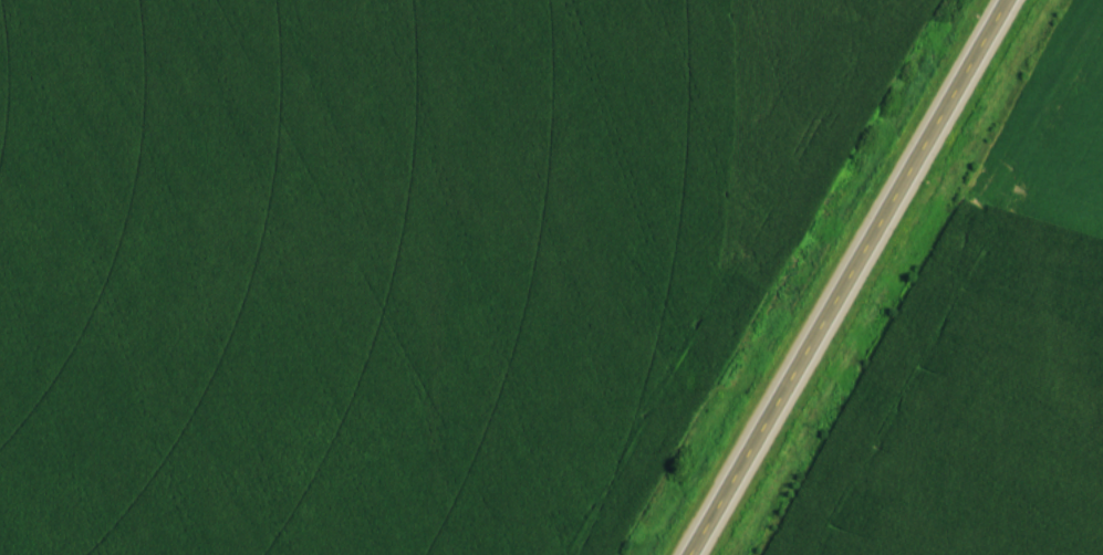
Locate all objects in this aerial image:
road: (849, 276)

